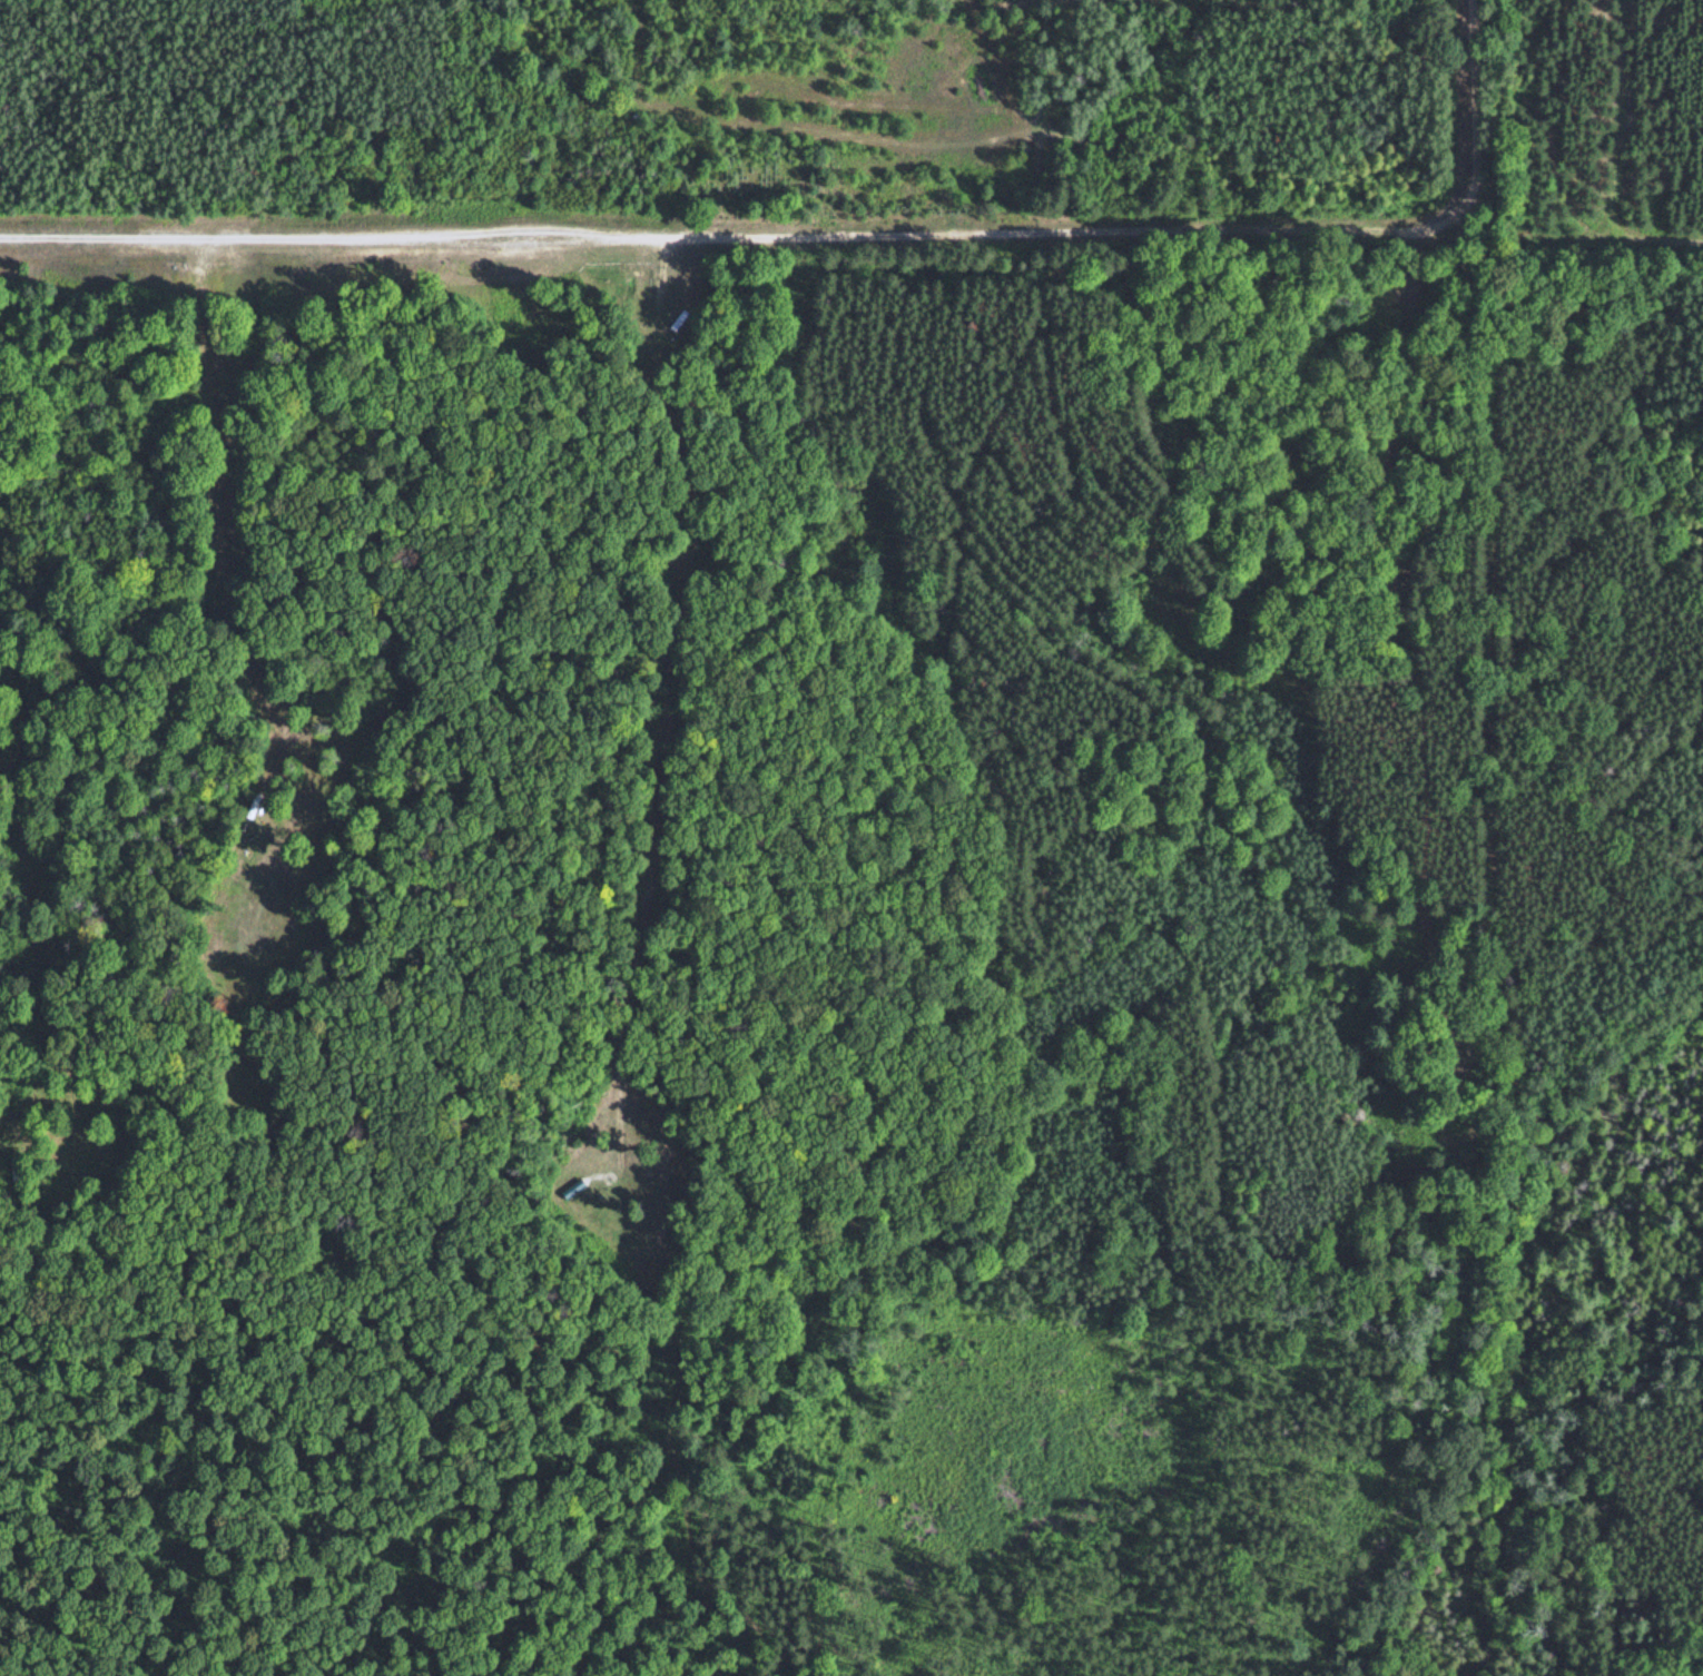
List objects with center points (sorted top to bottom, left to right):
road: (1468, 98)
road: (738, 235)
building: (676, 313)
road: (532, 1538)

